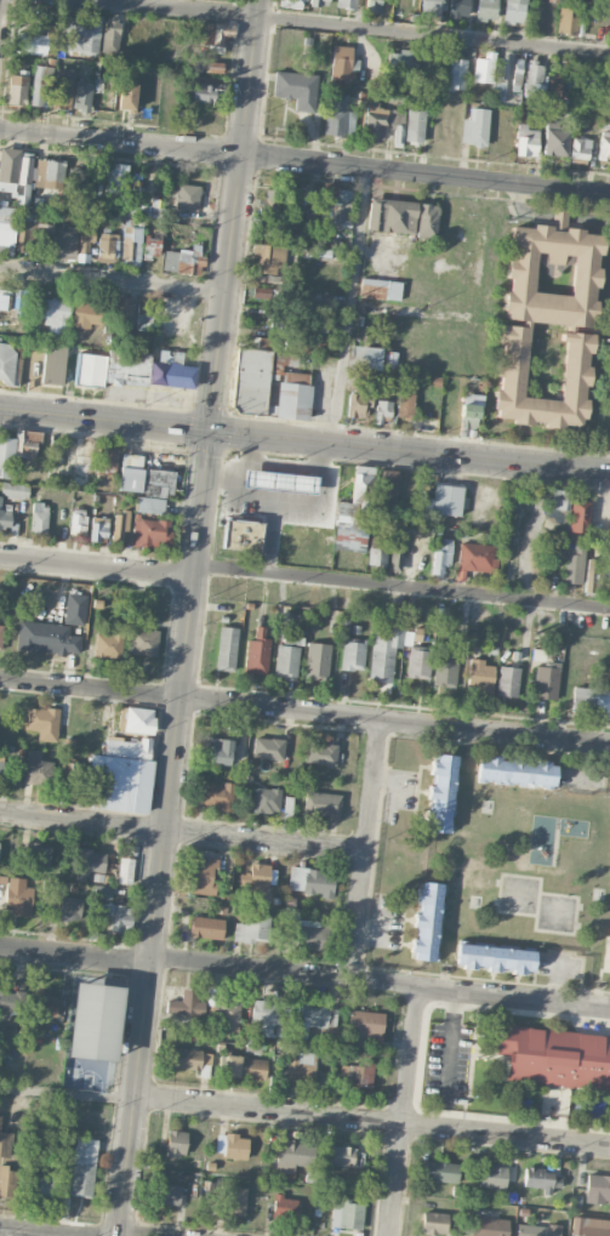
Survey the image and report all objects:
building: (319, 2)
building: (292, 4)
road: (0, 5)
building: (372, 6)
road: (175, 7)
building: (431, 7)
building: (458, 8)
building: (486, 10)
building: (514, 11)
building: (568, 23)
building: (217, 33)
building: (82, 34)
building: (110, 34)
road: (433, 35)
building: (32, 44)
building: (398, 59)
building: (342, 63)
building: (210, 67)
building: (484, 68)
building: (452, 74)
building: (517, 74)
building: (500, 79)
building: (534, 80)
building: (555, 84)
building: (40, 85)
building: (591, 85)
building: (63, 87)
building: (296, 89)
building: (17, 90)
building: (204, 92)
building: (127, 96)
building: (81, 97)
building: (338, 115)
building: (375, 121)
building: (605, 123)
building: (415, 125)
building: (475, 127)
building: (398, 136)
road: (75, 138)
building: (555, 138)
building: (526, 141)
building: (604, 146)
building: (580, 148)
road: (195, 150)
road: (275, 159)
building: (49, 173)
building: (16, 175)
building: (75, 180)
road: (460, 180)
building: (115, 186)
building: (187, 196)
building: (269, 204)
building: (336, 206)
building: (392, 216)
building: (427, 221)
building: (7, 229)
building: (273, 229)
building: (85, 234)
building: (35, 239)
building: (65, 243)
building: (131, 245)
building: (153, 245)
building: (107, 247)
building: (318, 252)
building: (268, 257)
building: (184, 260)
building: (553, 273)
road: (112, 283)
building: (380, 289)
building: (261, 292)
building: (4, 302)
road: (352, 306)
building: (122, 309)
road: (411, 313)
building: (85, 314)
building: (53, 315)
building: (325, 324)
building: (260, 342)
building: (310, 344)
building: (365, 358)
building: (8, 359)
building: (389, 359)
building: (53, 364)
building: (129, 369)
building: (90, 370)
building: (172, 370)
building: (576, 371)
building: (366, 377)
building: (251, 381)
building: (293, 395)
building: (406, 400)
building: (358, 405)
building: (381, 411)
building: (469, 412)
traffic signals: (209, 428)
road: (304, 439)
building: (27, 444)
building: (6, 456)
building: (108, 458)
building: (82, 461)
building: (144, 478)
road: (203, 478)
building: (388, 488)
building: (15, 490)
building: (446, 500)
building: (559, 500)
building: (150, 505)
building: (354, 512)
building: (5, 517)
building: (578, 517)
building: (39, 518)
building: (78, 520)
building: (119, 526)
building: (98, 529)
building: (150, 532)
building: (241, 535)
building: (398, 547)
building: (377, 556)
building: (441, 556)
building: (475, 558)
road: (96, 565)
building: (572, 565)
building: (608, 575)
building: (593, 576)
road: (400, 583)
building: (75, 609)
building: (343, 626)
building: (0, 634)
building: (46, 638)
building: (142, 640)
building: (108, 645)
building: (227, 649)
building: (384, 651)
building: (257, 653)
building: (353, 653)
building: (287, 656)
building: (317, 661)
building: (418, 663)
building: (445, 671)
building: (480, 676)
building: (545, 677)
building: (508, 682)
building: (591, 701)
road: (304, 712)
building: (136, 720)
building: (42, 722)
building: (268, 748)
building: (220, 752)
building: (320, 753)
building: (0, 765)
building: (36, 768)
building: (515, 771)
building: (124, 775)
building: (68, 781)
building: (441, 793)
building: (220, 796)
building: (267, 799)
building: (321, 804)
road: (181, 832)
road: (364, 848)
building: (38, 854)
building: (90, 862)
building: (125, 871)
building: (204, 876)
building: (255, 877)
building: (312, 881)
building: (102, 892)
building: (17, 895)
building: (68, 909)
building: (118, 917)
building: (427, 921)
building: (206, 927)
building: (252, 929)
building: (309, 934)
road: (74, 956)
building: (494, 958)
road: (249, 964)
road: (383, 980)
road: (514, 993)
building: (11, 1003)
building: (184, 1003)
building: (44, 1007)
building: (226, 1010)
building: (315, 1015)
building: (270, 1018)
building: (95, 1021)
building: (365, 1029)
road: (409, 1053)
building: (555, 1056)
building: (189, 1060)
building: (244, 1067)
building: (302, 1067)
building: (355, 1075)
road: (65, 1093)
road: (132, 1097)
road: (371, 1118)
building: (42, 1133)
building: (5, 1143)
building: (176, 1143)
building: (230, 1145)
building: (291, 1155)
building: (338, 1156)
building: (84, 1167)
building: (437, 1172)
building: (492, 1177)
road: (394, 1179)
building: (6, 1180)
building: (542, 1180)
building: (41, 1185)
building: (597, 1189)
building: (167, 1194)
building: (235, 1201)
building: (285, 1207)
building: (346, 1213)
building: (434, 1223)
building: (485, 1226)
building: (591, 1226)
building: (537, 1230)
road: (35, 1231)
road: (139, 1235)

